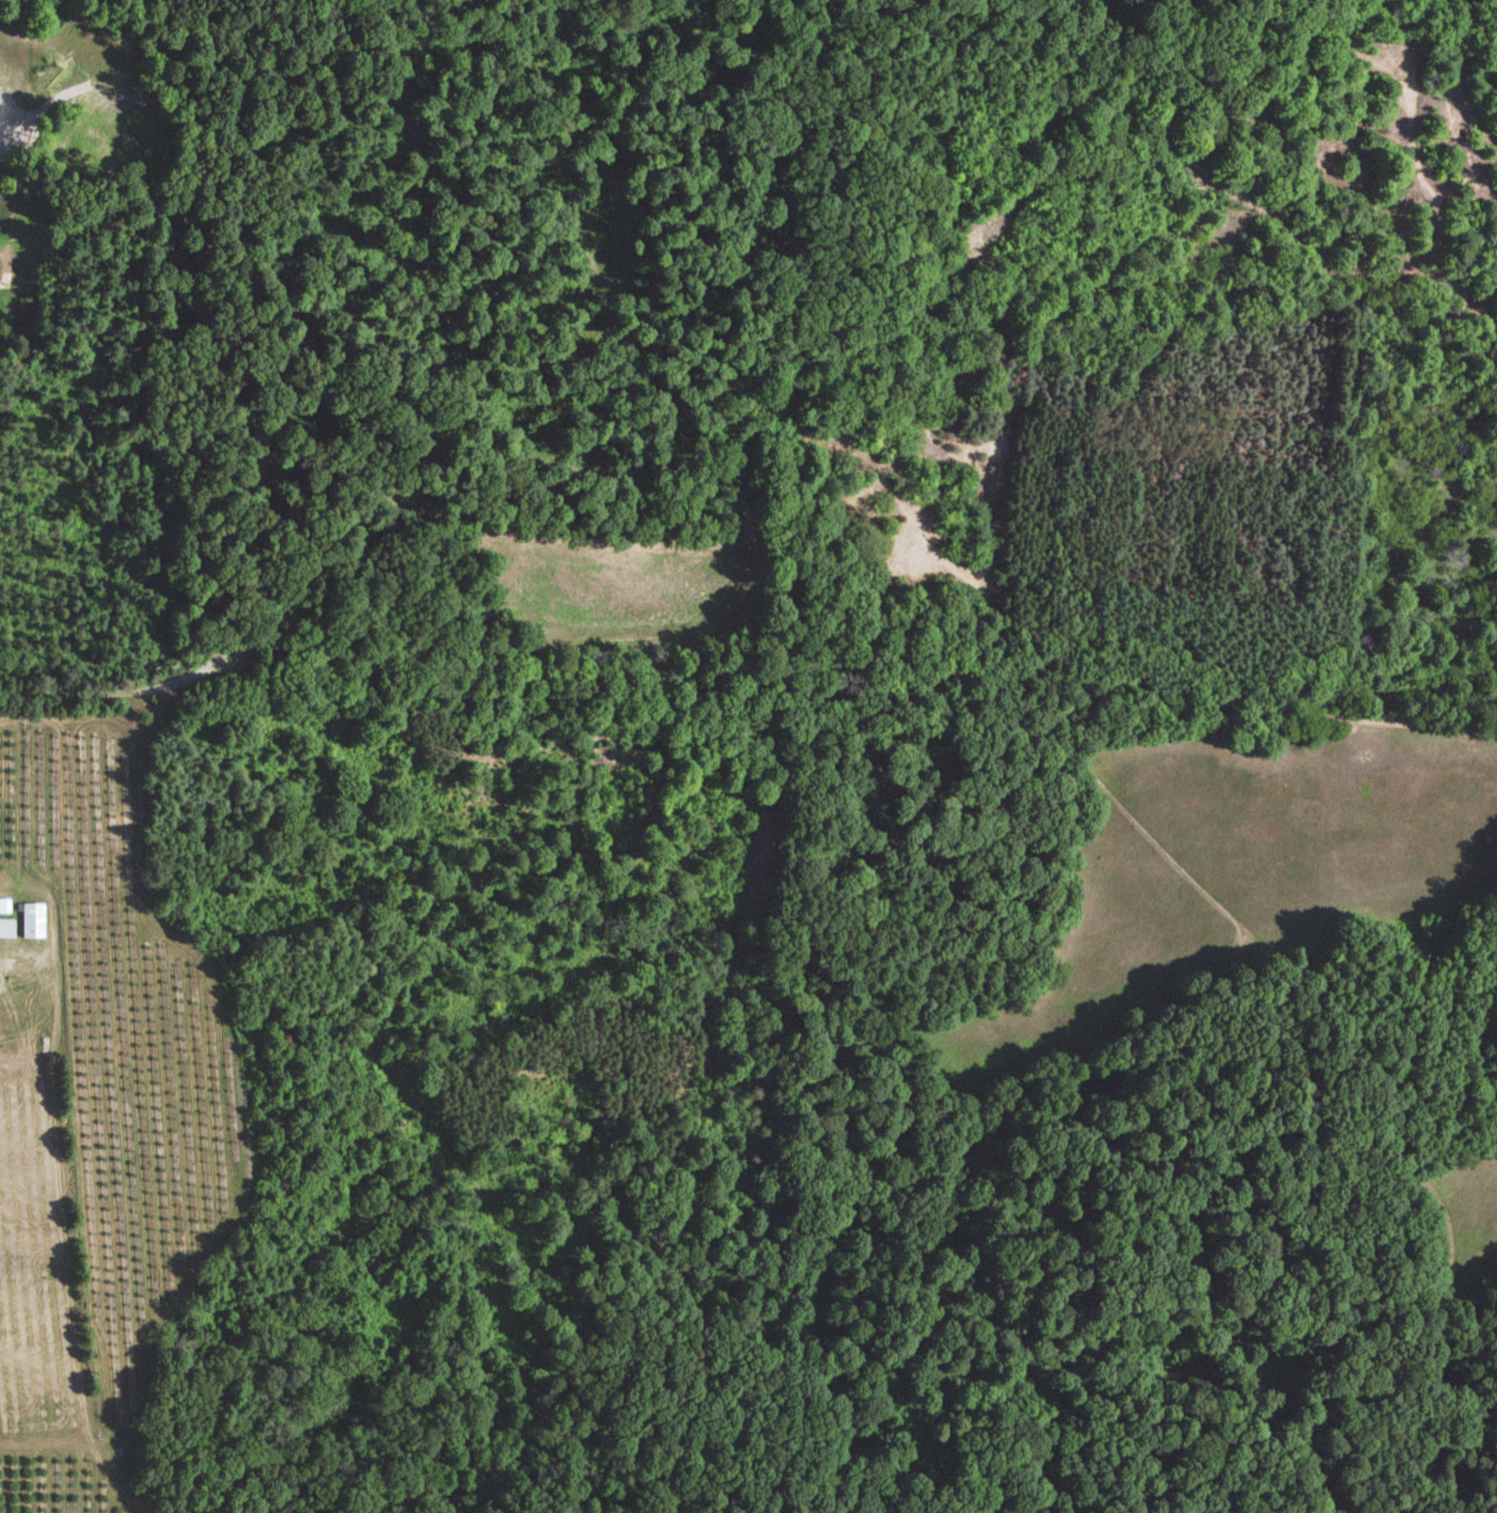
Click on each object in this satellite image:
road: (748, 633)
building: (5, 908)
building: (33, 922)
building: (7, 930)

